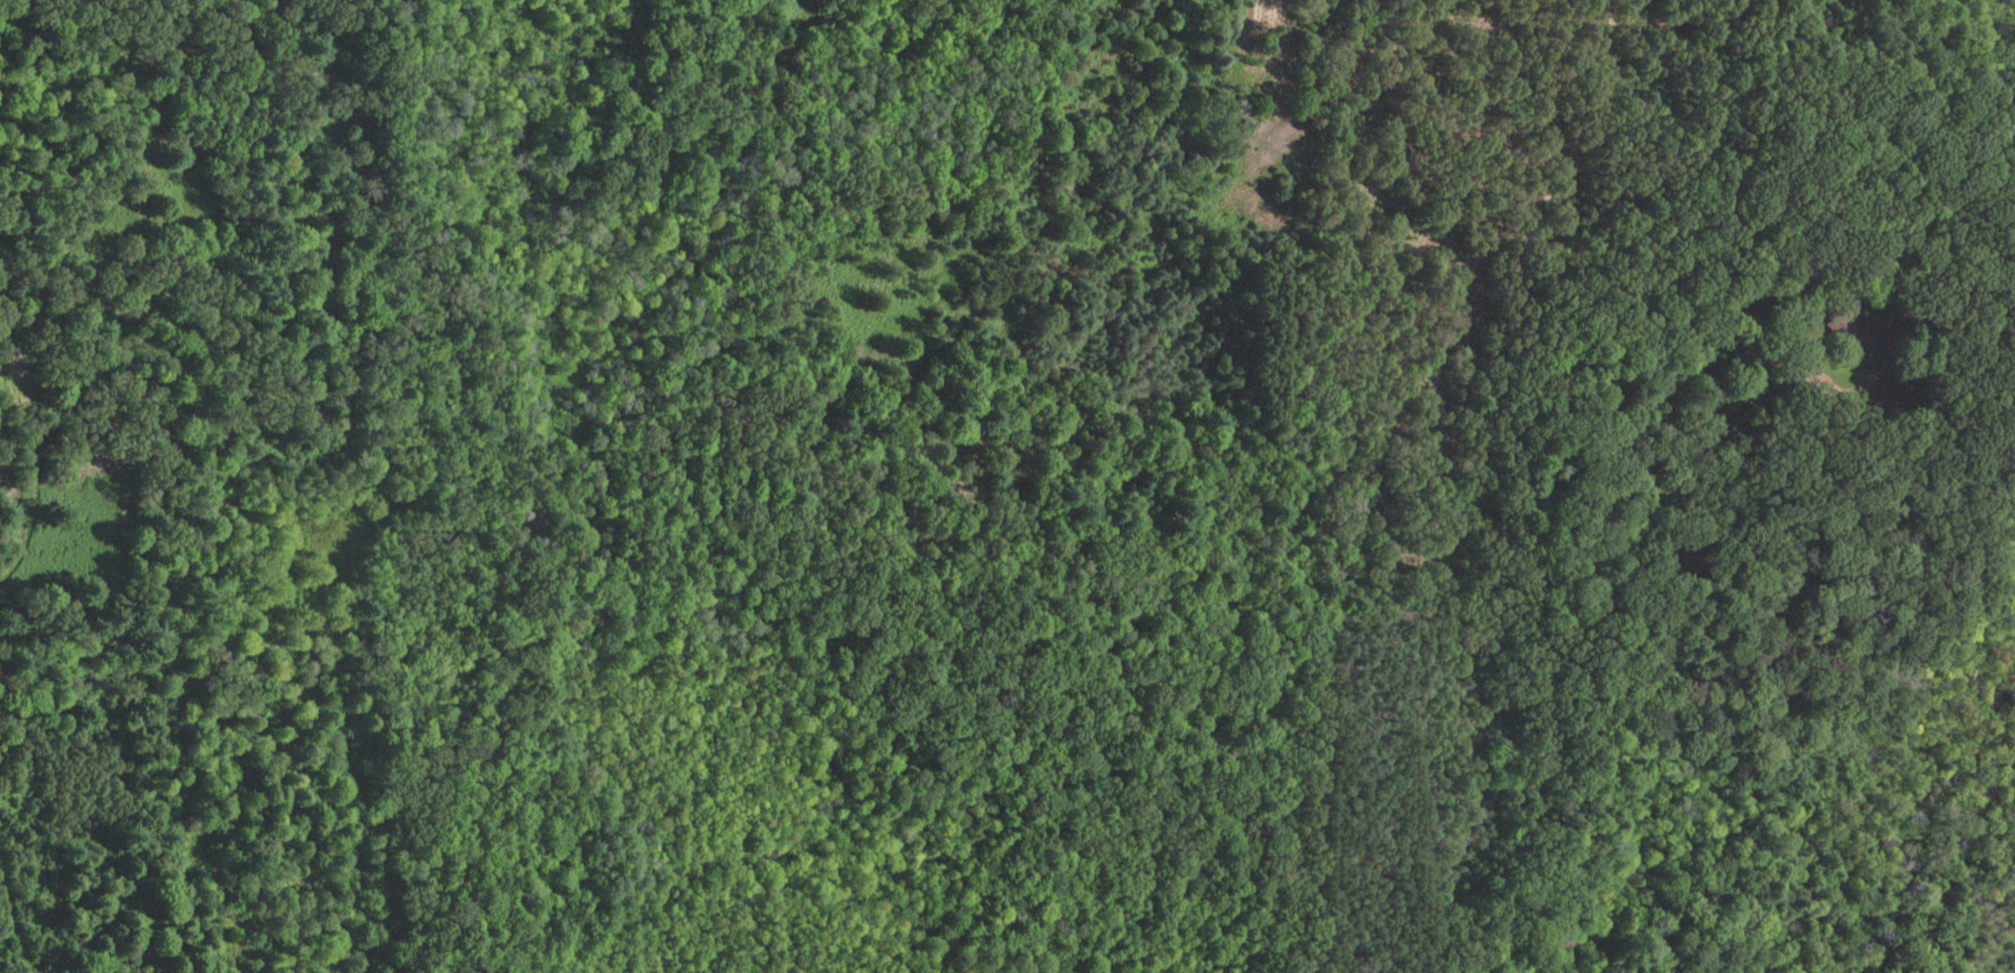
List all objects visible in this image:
road: (1950, 253)

